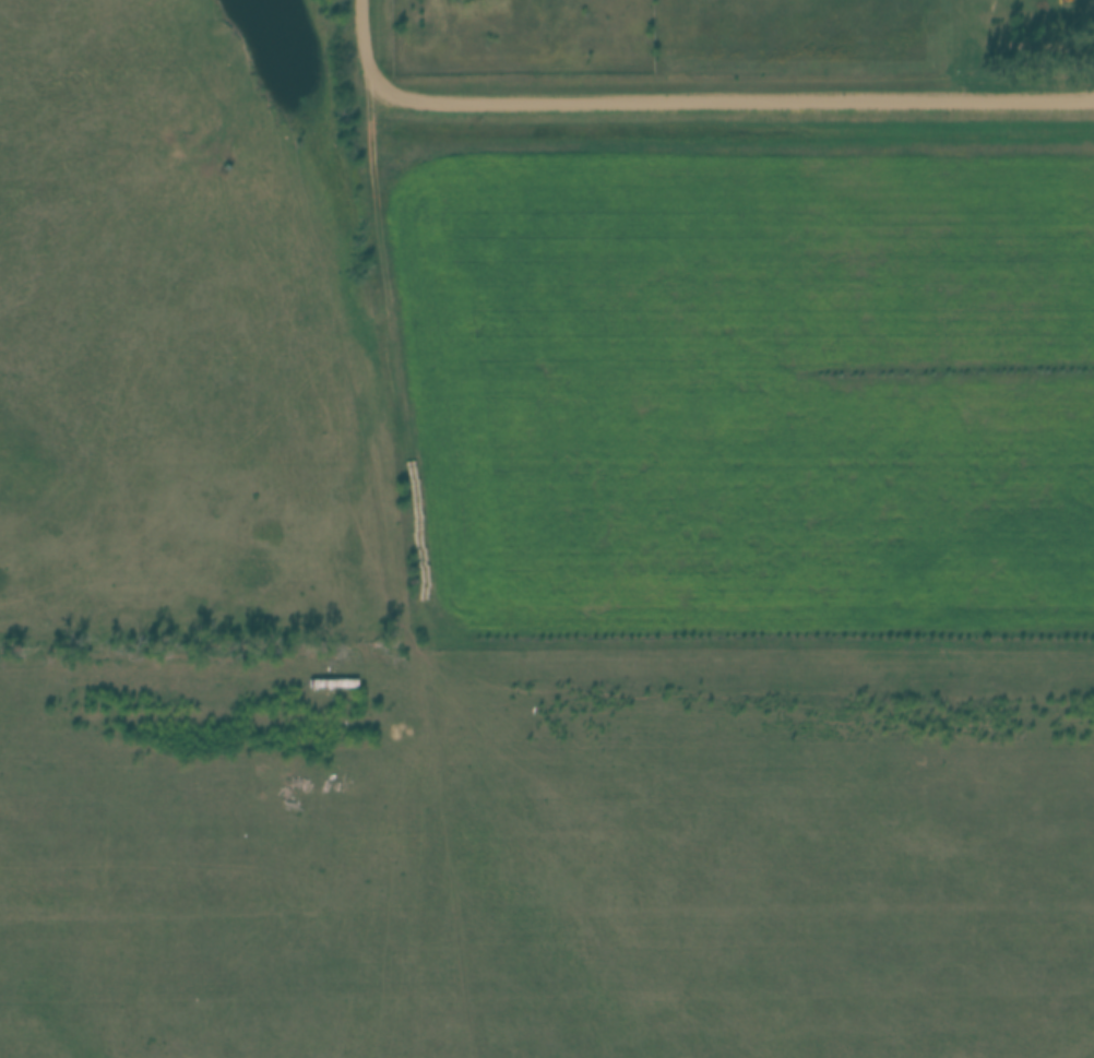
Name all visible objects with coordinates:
road: (691, 97)

